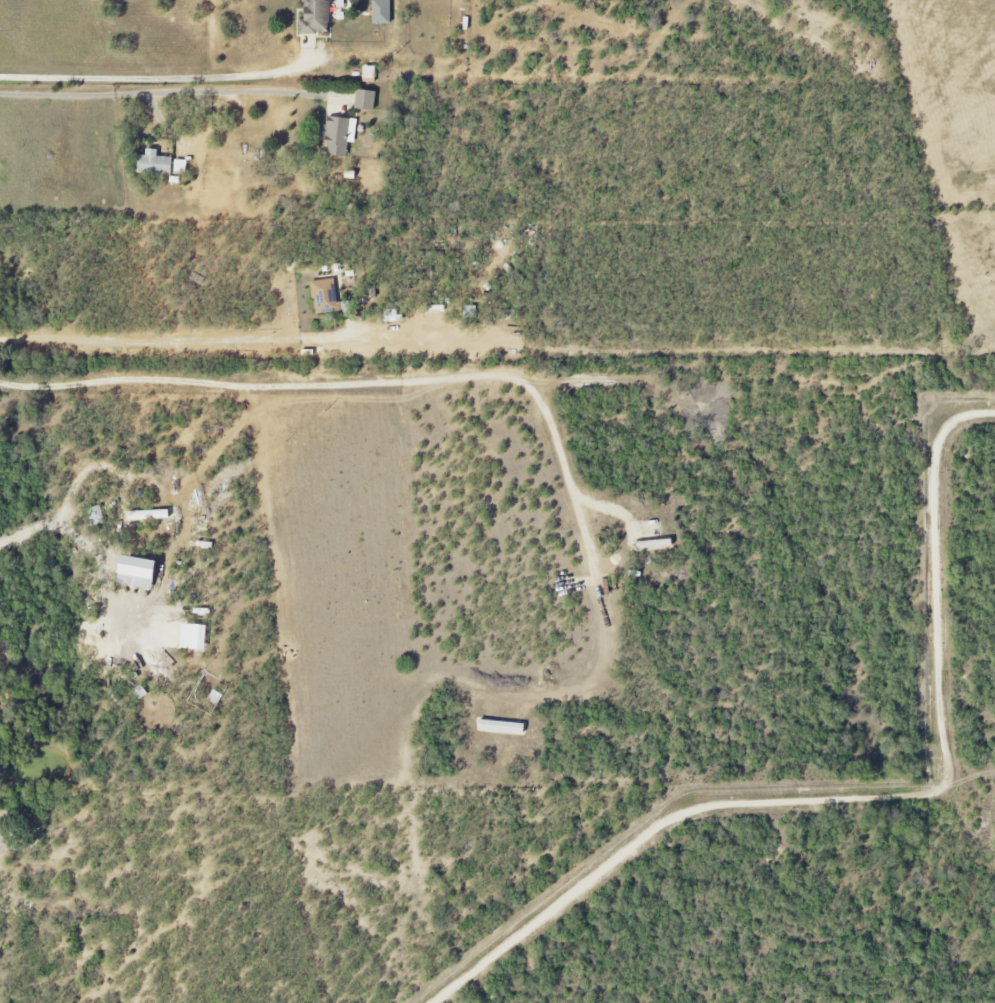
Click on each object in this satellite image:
building: (381, 12)
building: (315, 17)
building: (369, 74)
road: (154, 78)
road: (150, 93)
building: (365, 100)
building: (339, 135)
building: (155, 163)
building: (180, 166)
building: (329, 299)
road: (177, 341)
road: (354, 381)
road: (86, 537)
building: (139, 573)
road: (936, 582)
road: (966, 778)
road: (658, 826)

